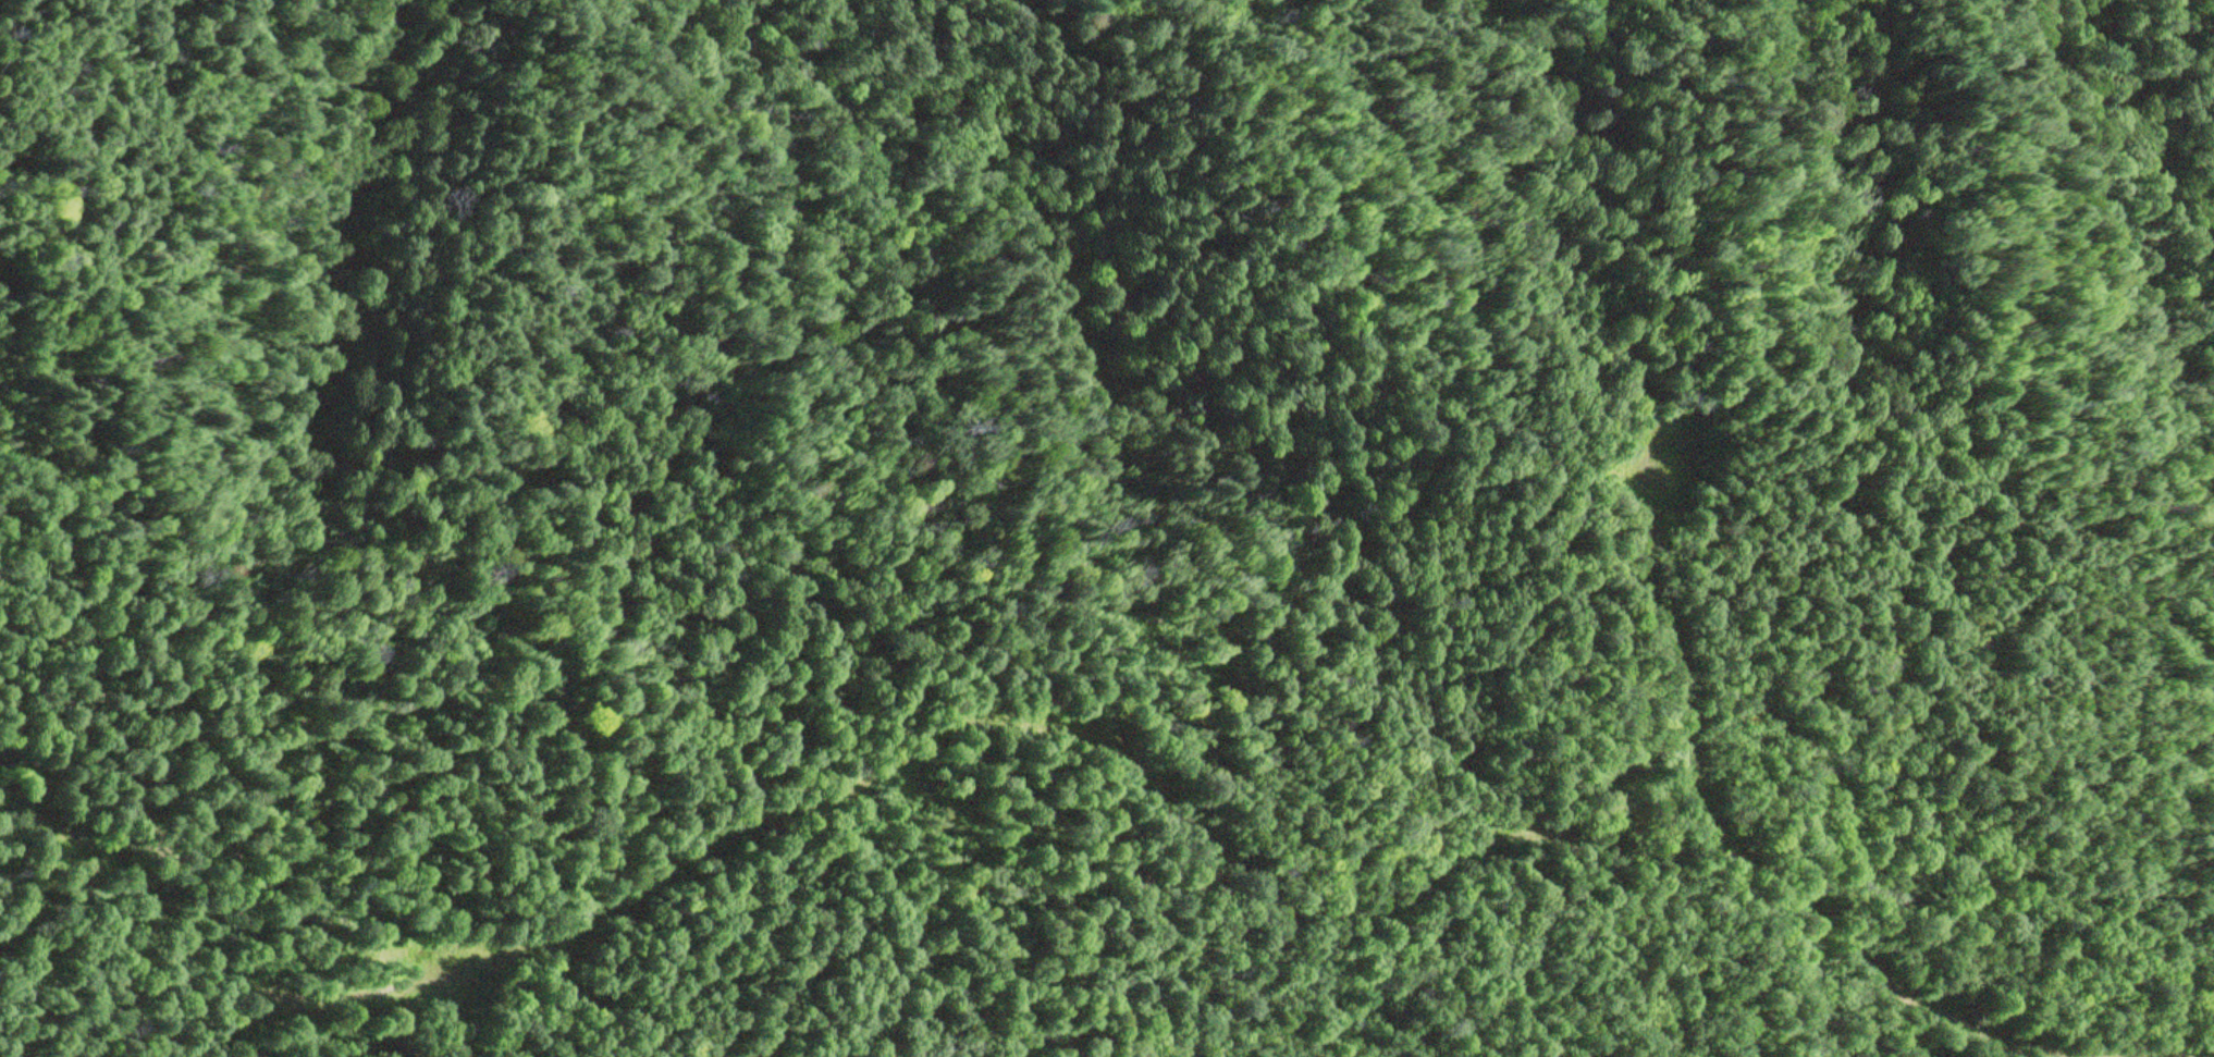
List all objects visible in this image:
road: (1028, 738)

